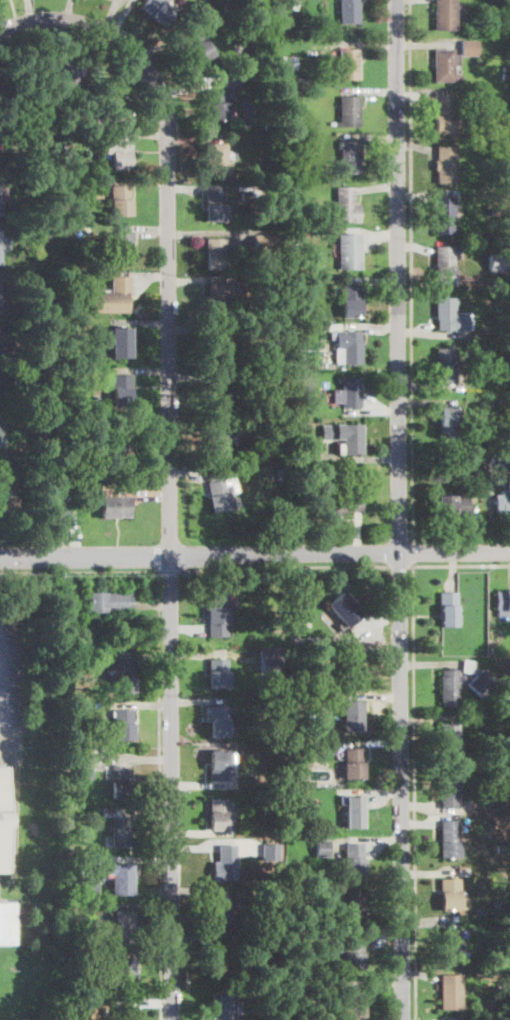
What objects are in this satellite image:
building: (320, 4)
road: (30, 10)
road: (71, 10)
building: (158, 10)
building: (349, 12)
road: (110, 15)
building: (226, 15)
building: (445, 15)
road: (120, 17)
building: (471, 27)
building: (314, 28)
road: (356, 43)
road: (427, 43)
road: (89, 48)
building: (193, 48)
building: (468, 48)
road: (157, 53)
building: (288, 63)
building: (348, 64)
building: (445, 66)
building: (60, 69)
building: (319, 78)
road: (189, 87)
road: (371, 91)
road: (429, 91)
building: (222, 96)
building: (106, 101)
road: (137, 109)
building: (348, 112)
building: (443, 113)
road: (140, 133)
road: (370, 136)
road: (195, 138)
building: (62, 139)
building: (78, 139)
road: (415, 146)
building: (306, 149)
building: (118, 154)
building: (349, 156)
building: (218, 158)
building: (445, 164)
road: (145, 184)
road: (209, 187)
building: (291, 188)
road: (378, 188)
road: (428, 191)
building: (255, 193)
building: (245, 196)
building: (2, 198)
building: (122, 201)
building: (345, 205)
building: (216, 206)
building: (68, 211)
building: (45, 213)
building: (444, 215)
road: (143, 227)
building: (65, 229)
road: (212, 233)
road: (381, 234)
building: (294, 238)
building: (49, 240)
building: (264, 242)
building: (3, 245)
road: (415, 245)
building: (122, 248)
building: (349, 251)
building: (215, 254)
building: (319, 258)
building: (496, 263)
building: (444, 265)
building: (312, 268)
road: (411, 270)
road: (152, 274)
road: (398, 276)
road: (196, 278)
road: (372, 279)
building: (1, 283)
building: (14, 287)
building: (112, 297)
building: (468, 297)
building: (216, 300)
building: (351, 301)
building: (0, 303)
building: (283, 315)
building: (450, 316)
road: (142, 321)
building: (334, 325)
building: (294, 327)
road: (367, 327)
building: (282, 331)
road: (431, 332)
road: (186, 337)
building: (2, 339)
building: (121, 343)
building: (348, 345)
building: (292, 348)
building: (216, 351)
building: (314, 361)
building: (447, 366)
road: (141, 370)
road: (186, 383)
building: (122, 391)
building: (5, 392)
building: (348, 392)
building: (46, 395)
building: (217, 397)
building: (252, 399)
road: (426, 401)
building: (280, 412)
building: (331, 412)
road: (371, 412)
road: (144, 417)
building: (448, 421)
road: (186, 428)
building: (0, 430)
building: (241, 434)
building: (122, 437)
building: (343, 437)
building: (219, 441)
building: (89, 447)
building: (245, 452)
building: (472, 453)
road: (369, 458)
road: (169, 460)
building: (502, 461)
building: (111, 469)
road: (187, 476)
building: (221, 492)
road: (147, 493)
building: (55, 502)
building: (502, 502)
building: (342, 503)
building: (452, 504)
building: (8, 505)
building: (116, 506)
road: (491, 520)
road: (76, 526)
road: (475, 526)
road: (358, 534)
road: (412, 553)
road: (455, 553)
road: (200, 555)
road: (157, 556)
road: (462, 564)
road: (284, 565)
road: (402, 565)
road: (79, 570)
road: (169, 570)
road: (450, 570)
building: (502, 602)
building: (110, 603)
road: (150, 603)
building: (344, 609)
building: (449, 609)
building: (218, 615)
road: (374, 621)
building: (69, 626)
road: (187, 629)
building: (77, 637)
road: (212, 652)
road: (152, 653)
building: (269, 655)
road: (430, 664)
building: (469, 666)
road: (2, 667)
parking lot: (10, 669)
building: (351, 670)
building: (123, 673)
building: (218, 674)
building: (481, 684)
building: (450, 687)
building: (506, 694)
road: (374, 695)
building: (247, 697)
road: (185, 702)
road: (141, 704)
building: (351, 714)
building: (217, 717)
road: (429, 719)
building: (123, 725)
building: (76, 737)
building: (448, 737)
road: (376, 741)
road: (132, 759)
building: (219, 763)
building: (354, 763)
building: (84, 766)
building: (502, 776)
building: (121, 782)
road: (202, 784)
road: (401, 786)
building: (449, 789)
road: (373, 792)
road: (414, 792)
road: (160, 794)
road: (19, 796)
road: (140, 810)
building: (269, 810)
building: (355, 812)
building: (221, 813)
building: (6, 818)
road: (427, 819)
building: (315, 825)
building: (121, 831)
road: (201, 831)
building: (76, 835)
road: (373, 839)
building: (449, 840)
road: (212, 841)
building: (322, 848)
building: (271, 851)
road: (141, 858)
building: (354, 859)
building: (227, 862)
road: (428, 873)
building: (120, 878)
road: (377, 885)
building: (89, 886)
road: (200, 889)
building: (452, 895)
building: (355, 905)
road: (145, 907)
building: (221, 910)
road: (428, 920)
building: (8, 922)
building: (123, 926)
road: (380, 931)
building: (65, 939)
road: (190, 941)
building: (451, 943)
building: (353, 952)
building: (277, 955)
road: (154, 960)
building: (222, 960)
road: (428, 971)
building: (125, 974)
road: (380, 981)
building: (450, 992)
building: (84, 1001)
building: (353, 1001)
road: (152, 1002)
building: (222, 1007)
building: (123, 1008)
road: (430, 1019)

